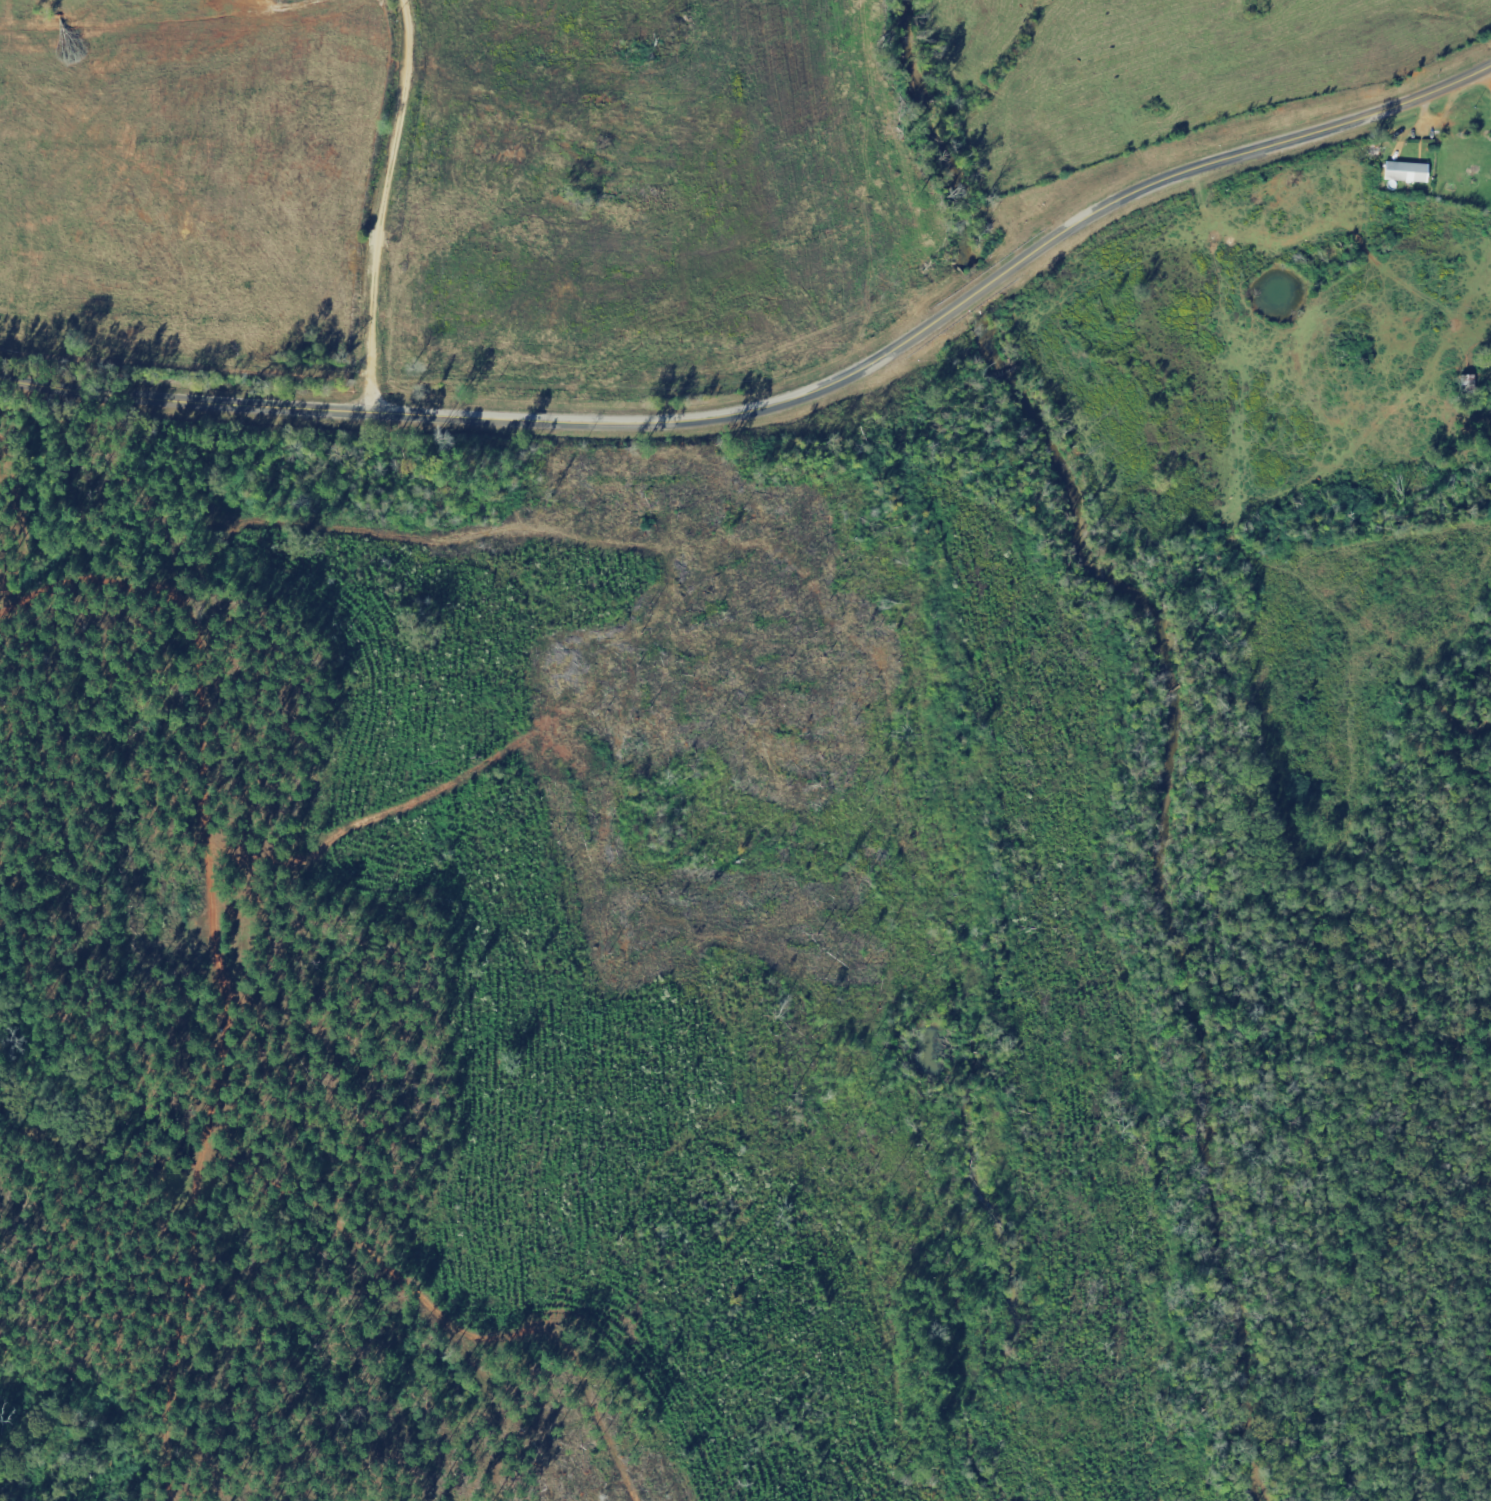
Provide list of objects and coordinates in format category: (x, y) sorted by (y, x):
road: (1457, 109)
building: (1408, 173)
road: (784, 402)

